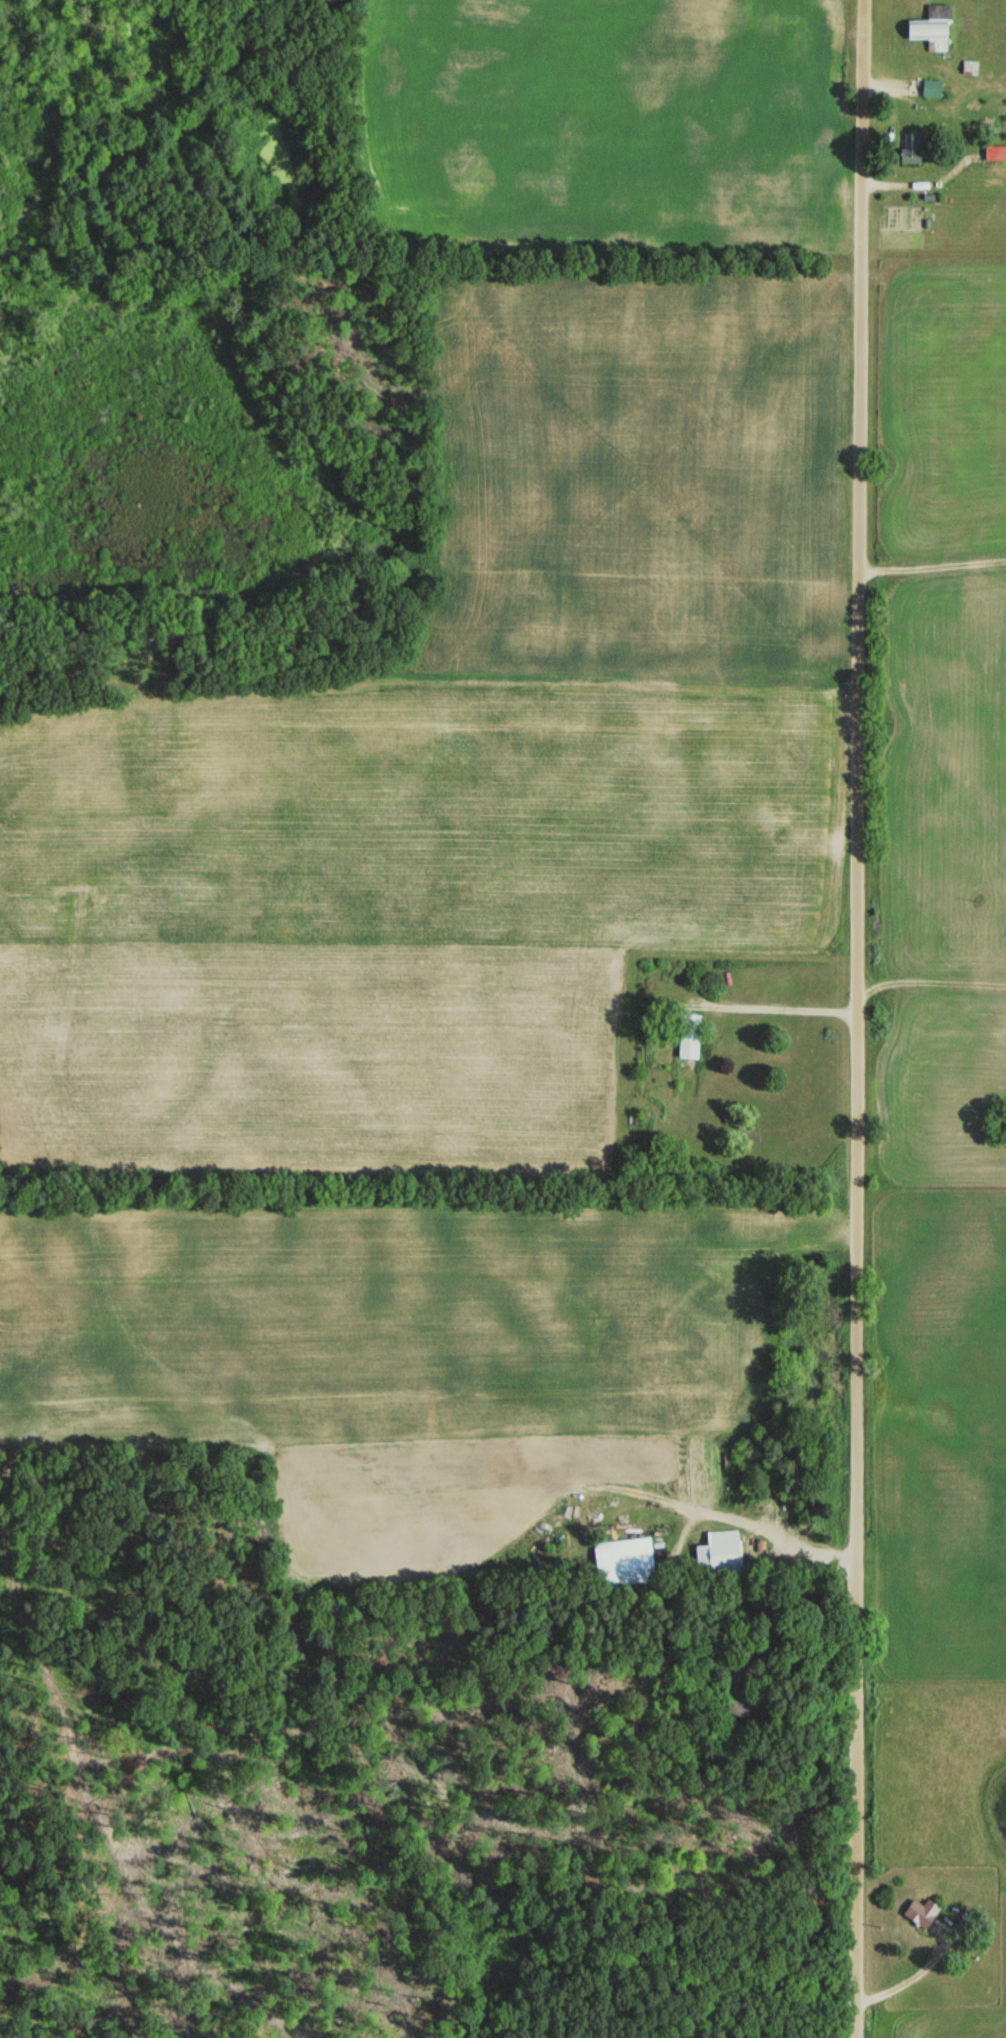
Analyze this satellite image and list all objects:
building: (932, 29)
building: (931, 89)
building: (912, 148)
building: (995, 153)
road: (931, 566)
road: (771, 1008)
road: (855, 1019)
building: (689, 1037)
road: (762, 1528)
building: (719, 1553)
building: (624, 1563)
building: (921, 1913)

